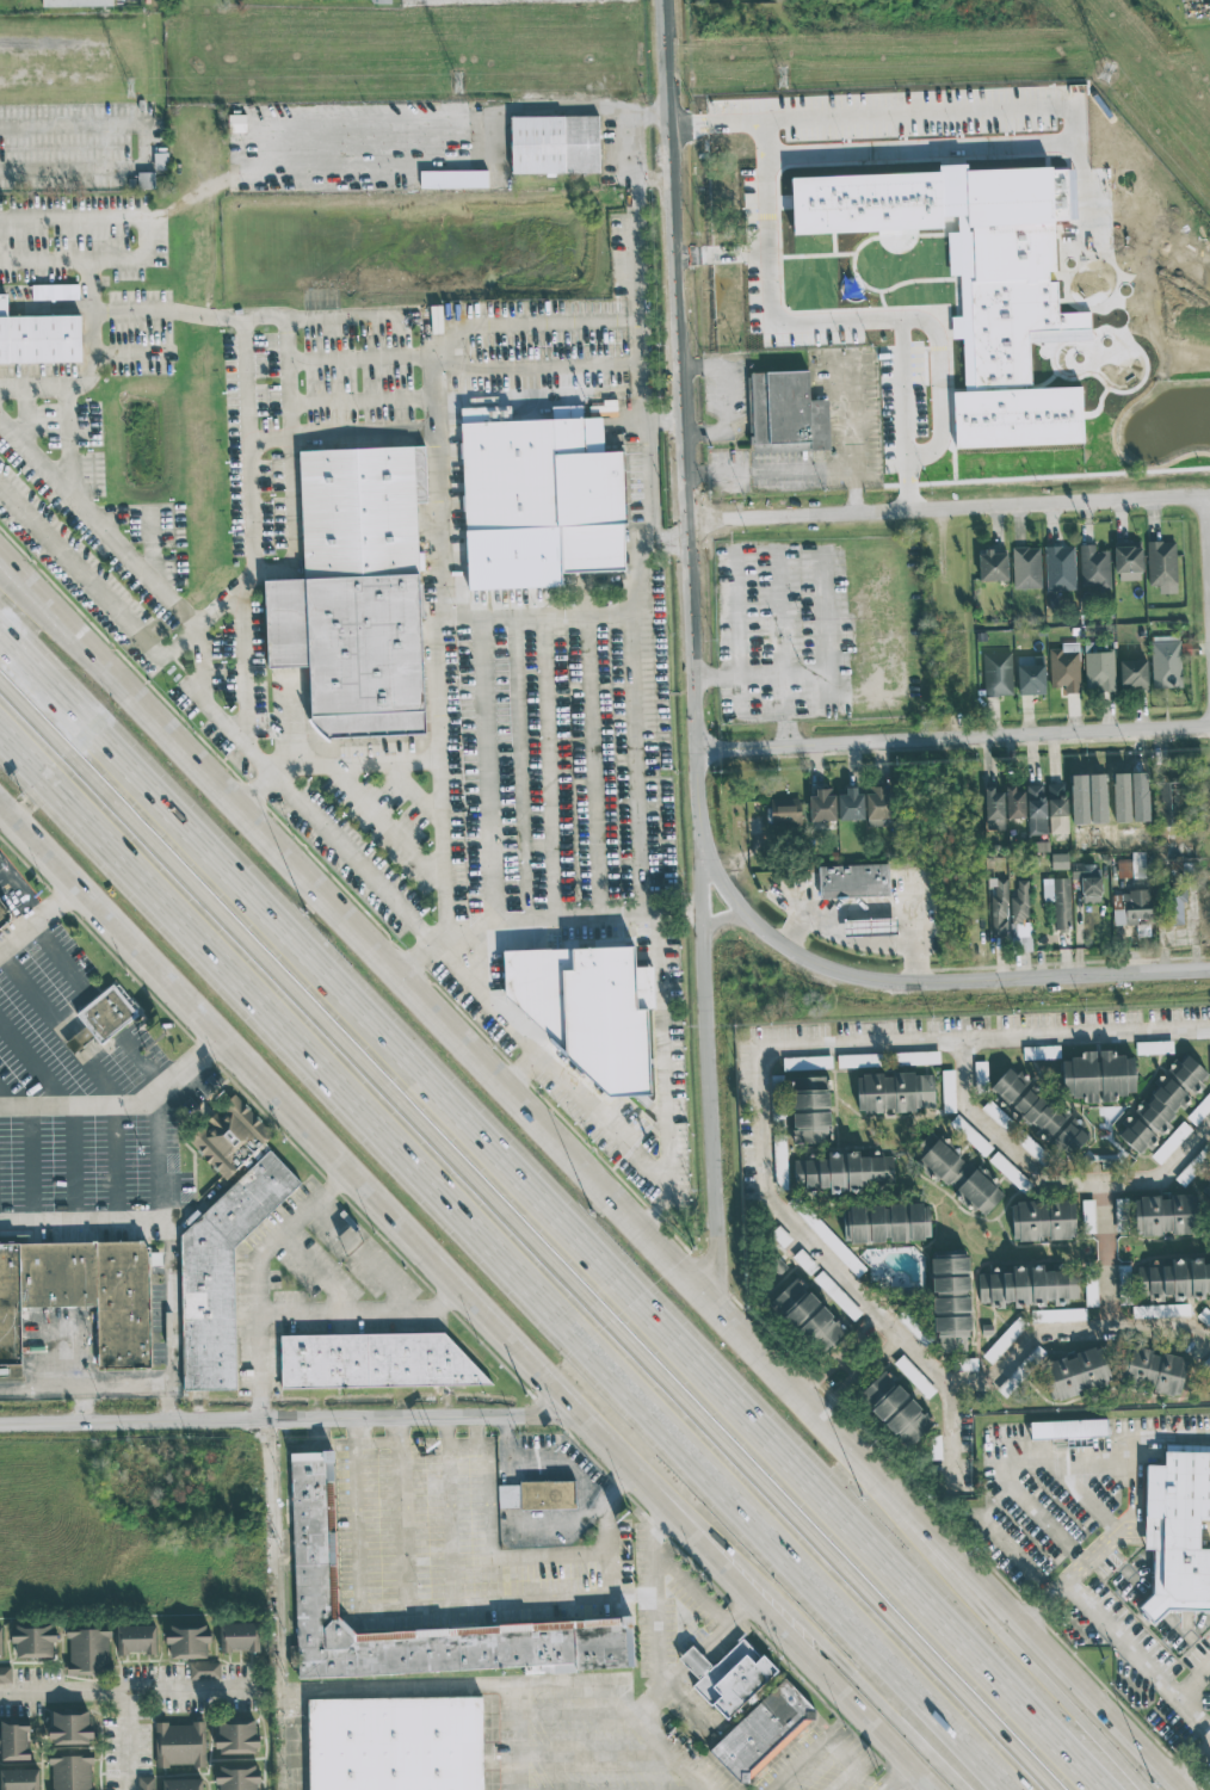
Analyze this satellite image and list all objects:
building: (378, 1)
building: (74, 2)
road: (165, 7)
power tower: (1105, 72)
power tower: (782, 78)
power tower: (457, 82)
power tower: (129, 87)
road: (623, 119)
road: (813, 121)
building: (236, 123)
building: (554, 143)
road: (138, 150)
road: (650, 175)
building: (146, 180)
building: (468, 180)
road: (851, 253)
road: (1031, 270)
building: (54, 291)
road: (938, 295)
road: (115, 301)
building: (1017, 327)
building: (38, 337)
road: (92, 347)
road: (641, 358)
road: (41, 395)
road: (723, 397)
road: (428, 407)
building: (784, 412)
road: (663, 419)
road: (268, 445)
road: (4, 486)
building: (549, 487)
road: (902, 495)
road: (947, 508)
road: (671, 542)
building: (513, 558)
building: (1128, 561)
road: (1206, 561)
building: (992, 566)
building: (1162, 566)
building: (1093, 567)
building: (1026, 568)
building: (1058, 568)
building: (356, 592)
road: (532, 610)
road: (179, 616)
road: (72, 624)
road: (73, 630)
building: (1166, 662)
building: (1064, 671)
building: (1099, 671)
building: (998, 674)
building: (1030, 674)
building: (1132, 674)
road: (759, 675)
road: (209, 706)
road: (697, 706)
road: (433, 714)
road: (632, 723)
road: (955, 739)
road: (549, 763)
road: (286, 784)
road: (258, 786)
building: (1121, 797)
building: (1097, 798)
road: (369, 800)
building: (848, 803)
building: (876, 803)
building: (1014, 803)
building: (1166, 803)
building: (821, 804)
building: (1057, 808)
building: (784, 809)
building: (993, 809)
building: (1036, 809)
road: (443, 858)
building: (1058, 860)
building: (1131, 866)
building: (852, 881)
building: (1087, 881)
building: (1057, 900)
building: (999, 907)
building: (1130, 907)
building: (1174, 908)
road: (595, 913)
road: (872, 913)
building: (1019, 916)
building: (4, 918)
road: (36, 919)
building: (873, 926)
road: (442, 939)
road: (863, 944)
road: (416, 956)
road: (62, 957)
building: (538, 988)
building: (106, 1016)
building: (607, 1021)
road: (60, 1027)
road: (523, 1032)
building: (1153, 1047)
road: (663, 1049)
building: (1041, 1053)
building: (1209, 1056)
building: (916, 1057)
building: (859, 1060)
road: (147, 1062)
building: (807, 1062)
road: (36, 1066)
road: (523, 1066)
building: (981, 1075)
building: (1098, 1076)
building: (947, 1091)
building: (895, 1092)
parking lot: (82, 1094)
road: (715, 1094)
road: (6, 1103)
road: (123, 1103)
building: (1162, 1104)
road: (531, 1110)
building: (810, 1110)
building: (1199, 1110)
building: (1033, 1111)
building: (229, 1138)
building: (1171, 1142)
building: (779, 1161)
road: (1051, 1161)
road: (117, 1165)
road: (72, 1166)
road: (768, 1166)
road: (32, 1167)
building: (1192, 1167)
building: (842, 1172)
building: (1010, 1172)
building: (957, 1174)
building: (1209, 1198)
building: (1087, 1206)
building: (1121, 1206)
road: (552, 1209)
building: (1163, 1216)
building: (1042, 1221)
building: (883, 1222)
road: (80, 1226)
road: (395, 1226)
road: (519, 1241)
building: (833, 1243)
road: (1115, 1247)
road: (365, 1257)
road: (171, 1258)
road: (494, 1269)
road: (320, 1273)
building: (222, 1274)
building: (1027, 1286)
building: (1163, 1288)
building: (1091, 1294)
building: (81, 1296)
building: (950, 1301)
road: (369, 1313)
building: (808, 1315)
building: (1058, 1315)
road: (888, 1325)
road: (890, 1325)
building: (913, 1327)
road: (848, 1341)
building: (376, 1363)
building: (1152, 1369)
building: (1076, 1372)
road: (136, 1388)
road: (48, 1389)
road: (822, 1402)
road: (82, 1405)
building: (894, 1409)
road: (283, 1419)
road: (953, 1428)
building: (1068, 1428)
road: (476, 1432)
road: (375, 1443)
road: (468, 1445)
road: (506, 1451)
road: (1105, 1459)
road: (567, 1463)
road: (270, 1465)
building: (548, 1496)
road: (507, 1498)
road: (1088, 1498)
road: (354, 1513)
road: (400, 1513)
road: (1045, 1525)
road: (1172, 1530)
road: (1205, 1531)
road: (566, 1532)
building: (1178, 1532)
parking lot: (390, 1535)
parking lot: (1074, 1536)
building: (314, 1538)
road: (1000, 1541)
road: (607, 1547)
road: (494, 1556)
road: (692, 1590)
road: (463, 1604)
road: (406, 1607)
road: (1041, 1607)
road: (659, 1613)
road: (727, 1625)
road: (1098, 1625)
building: (237, 1636)
building: (32, 1638)
building: (135, 1638)
building: (0, 1640)
building: (186, 1640)
building: (86, 1652)
road: (1033, 1654)
road: (1048, 1654)
building: (204, 1671)
building: (5, 1674)
road: (1190, 1678)
road: (516, 1690)
road: (125, 1696)
road: (686, 1706)
building: (748, 1710)
road: (572, 1714)
road: (871, 1715)
road: (862, 1716)
building: (69, 1727)
building: (235, 1735)
building: (13, 1739)
road: (511, 1740)
road: (125, 1743)
building: (179, 1743)
road: (827, 1743)
building: (397, 1746)
parking lot: (588, 1751)
road: (593, 1753)
parking lot: (823, 1766)
building: (70, 1771)
road: (1194, 1774)
building: (236, 1776)
road: (897, 1778)
building: (19, 1779)
road: (847, 1782)
building: (144, 1783)
building: (181, 1784)

